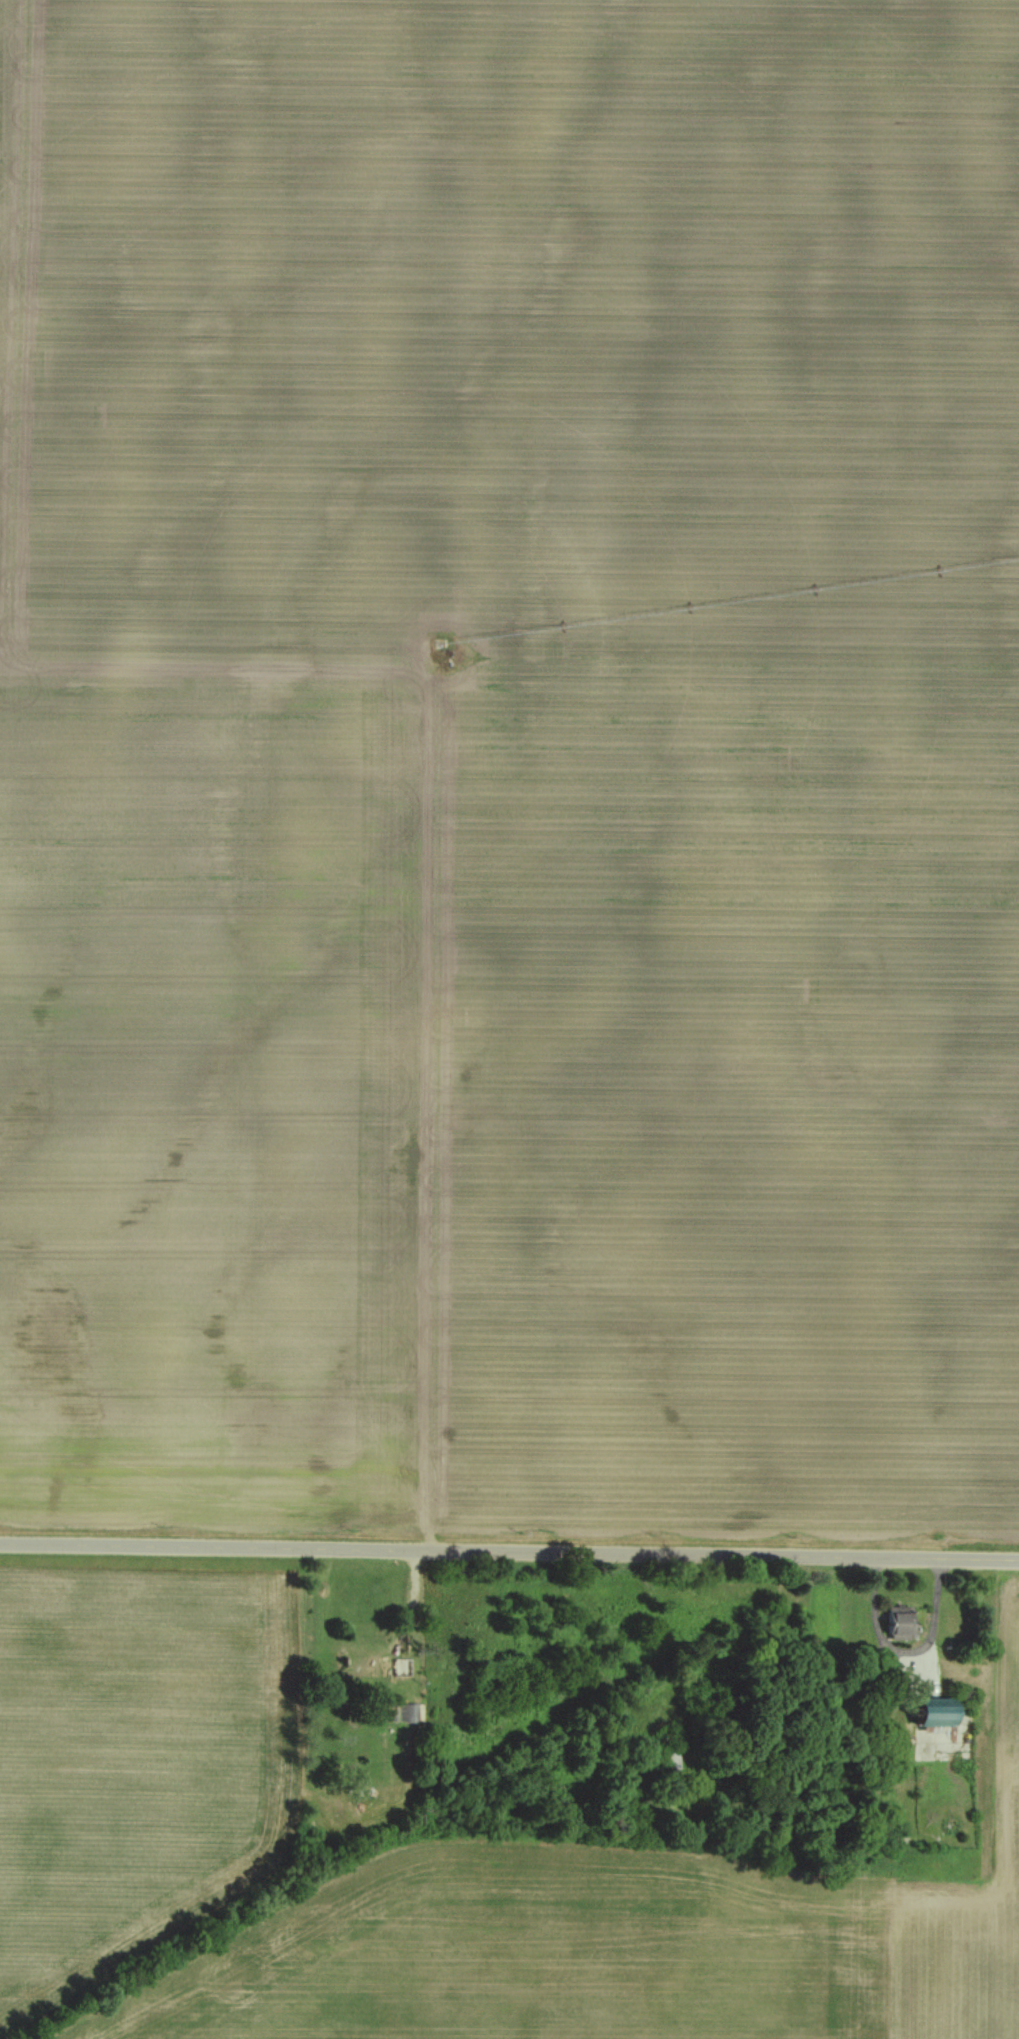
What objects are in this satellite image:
road: (509, 1554)
road: (402, 1620)
building: (893, 1622)
road: (895, 1655)
building: (363, 1665)
building: (403, 1668)
building: (883, 1668)
building: (925, 1713)
building: (414, 1714)
building: (666, 1765)

